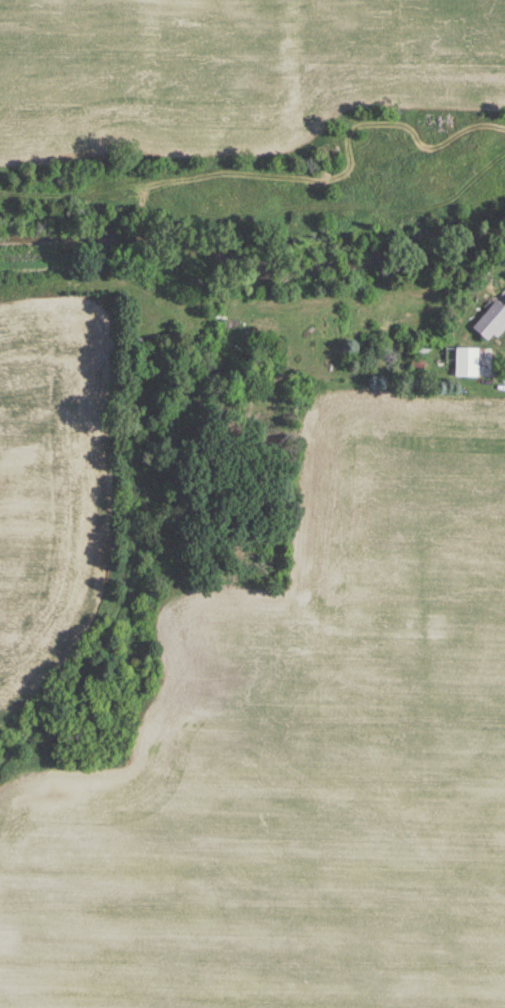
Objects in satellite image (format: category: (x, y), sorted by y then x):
building: (488, 323)
building: (464, 364)
road: (503, 367)

